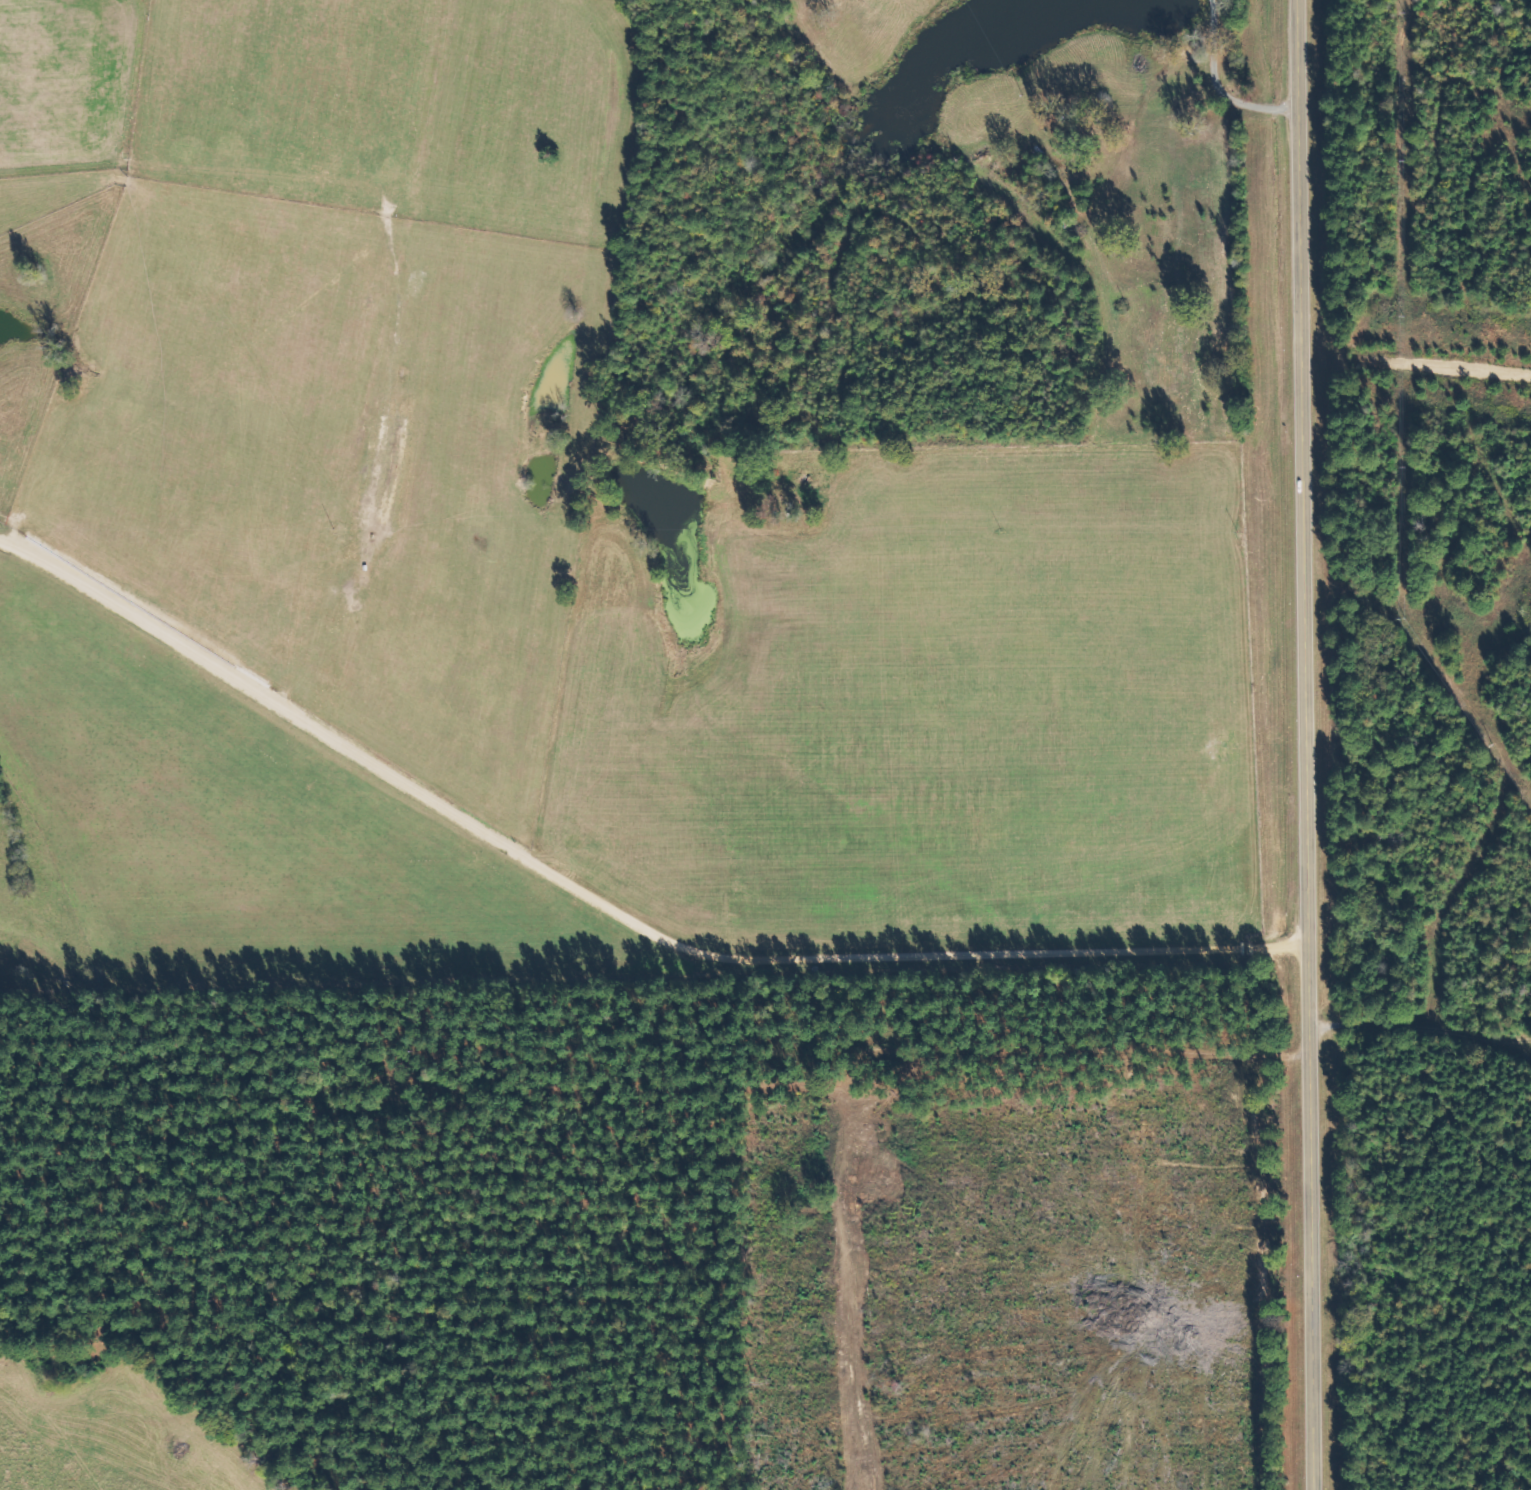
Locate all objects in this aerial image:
road: (1219, 83)
road: (1303, 745)
road: (606, 899)
road: (1041, 1040)

